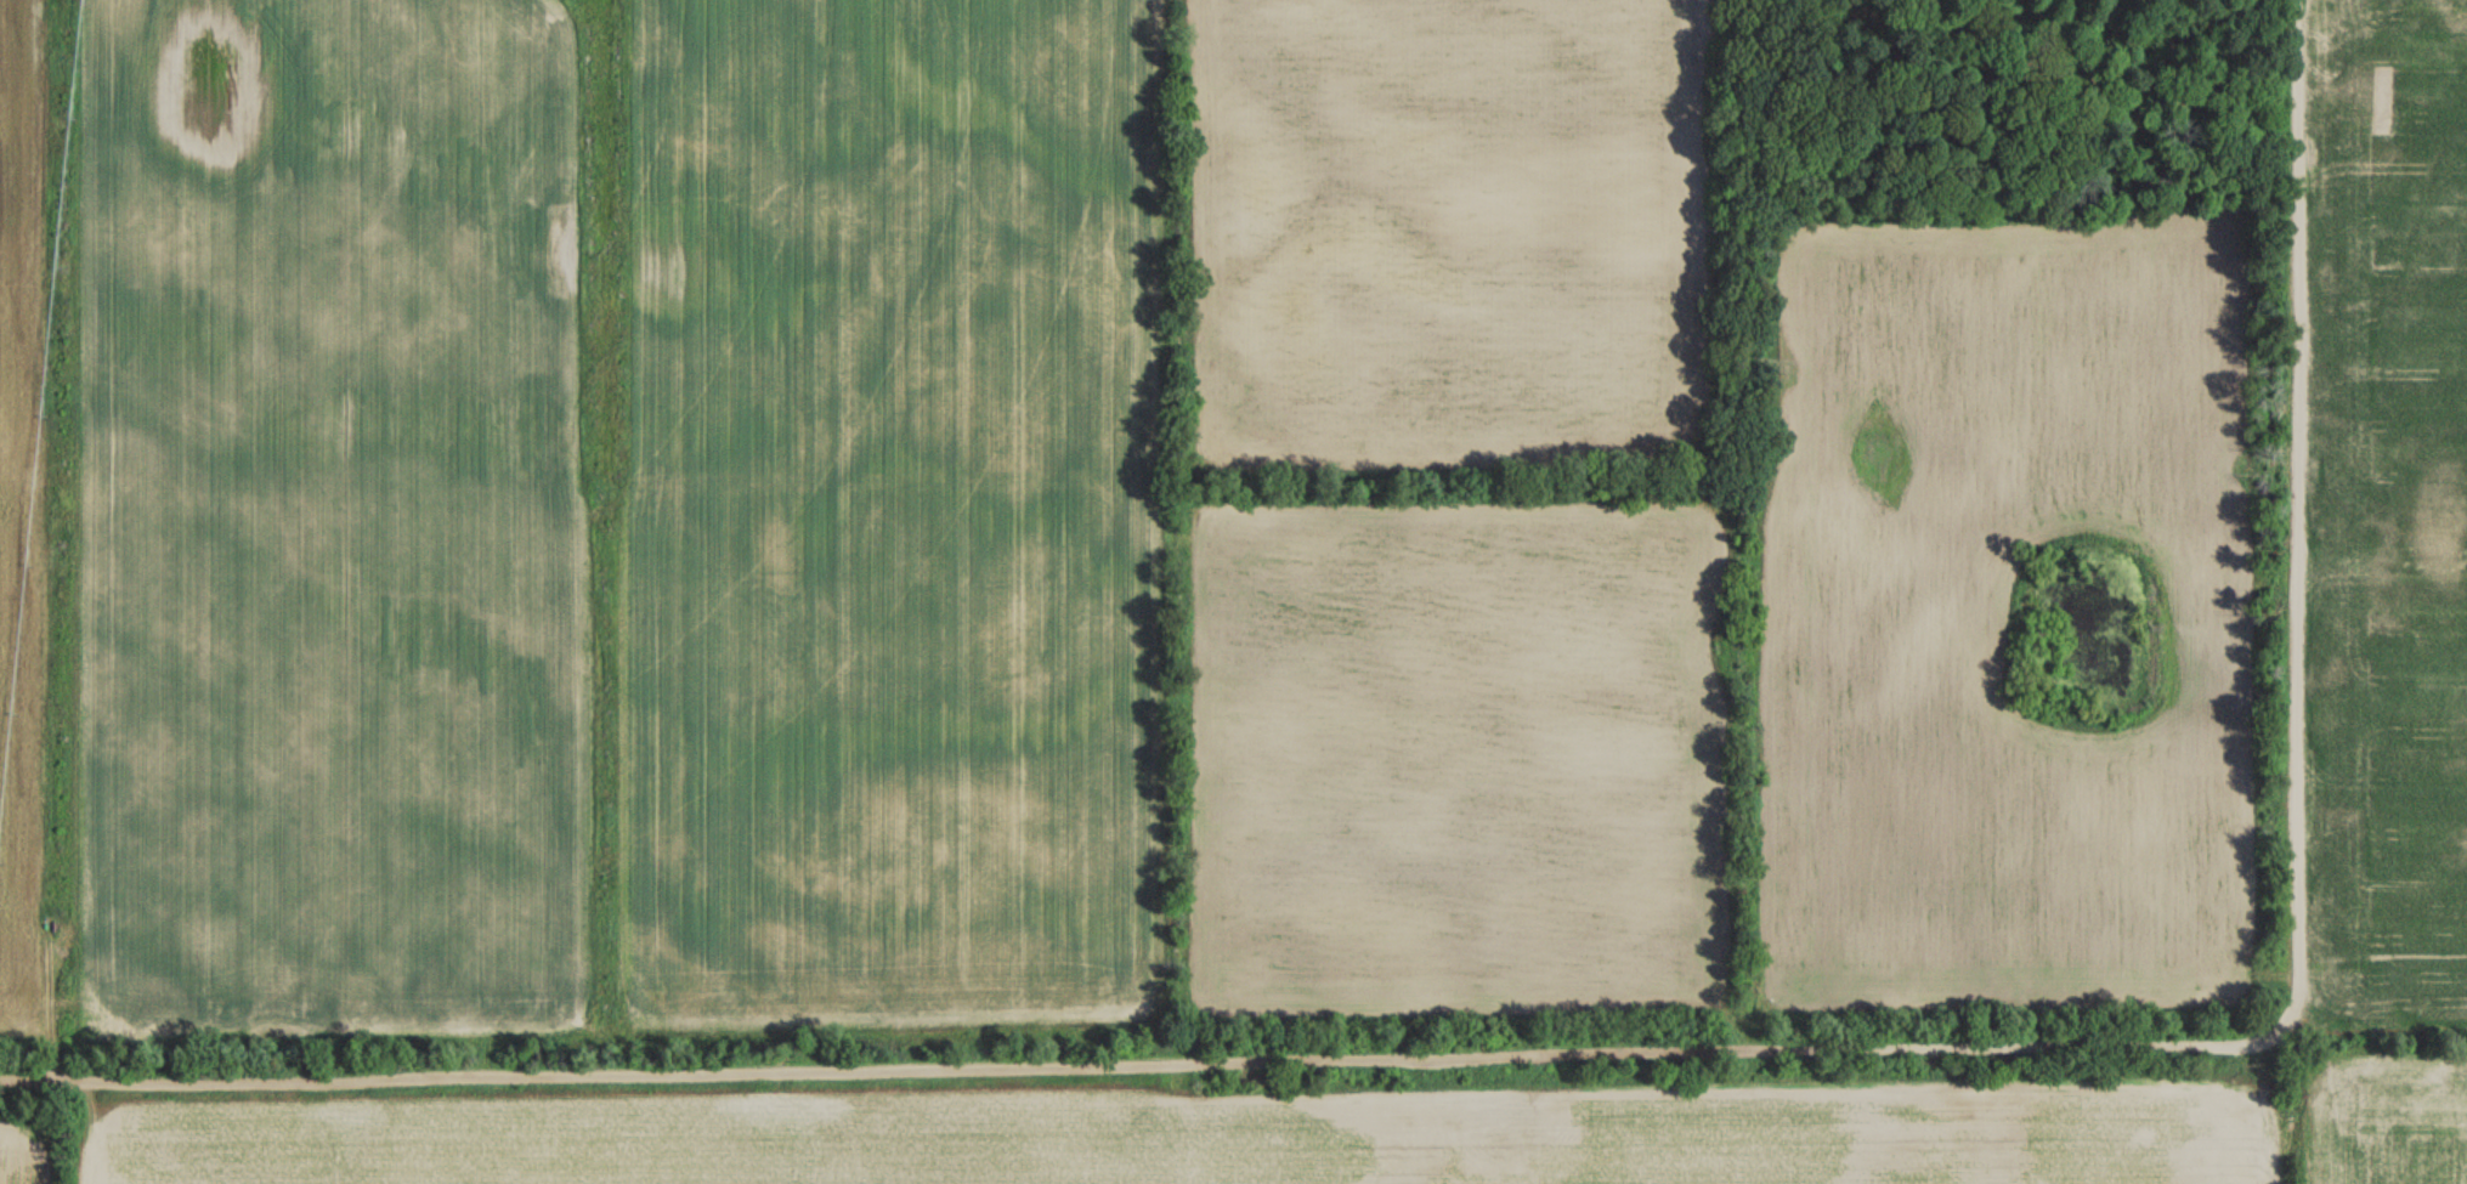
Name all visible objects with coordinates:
road: (2287, 512)
road: (1147, 1061)

